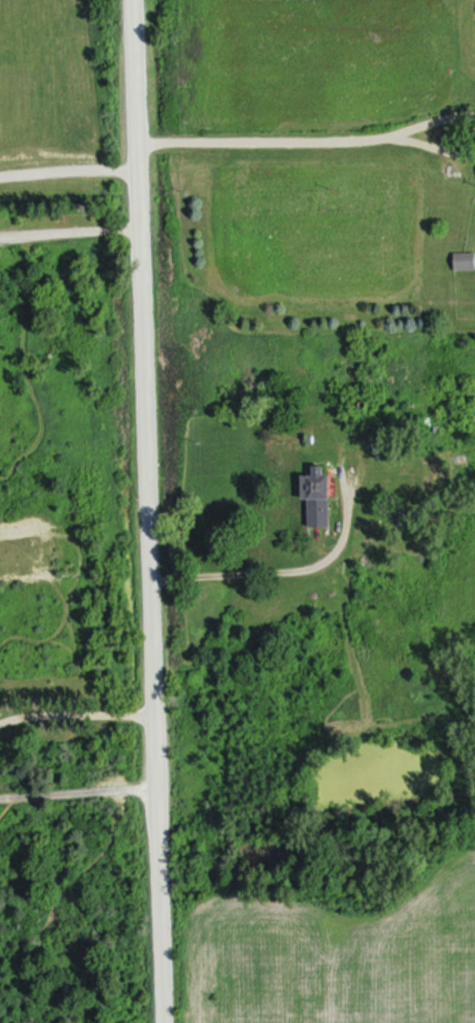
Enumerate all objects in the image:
road: (304, 138)
road: (65, 171)
road: (67, 231)
building: (464, 263)
building: (317, 500)
road: (142, 511)
road: (274, 571)
road: (74, 717)
road: (76, 794)

